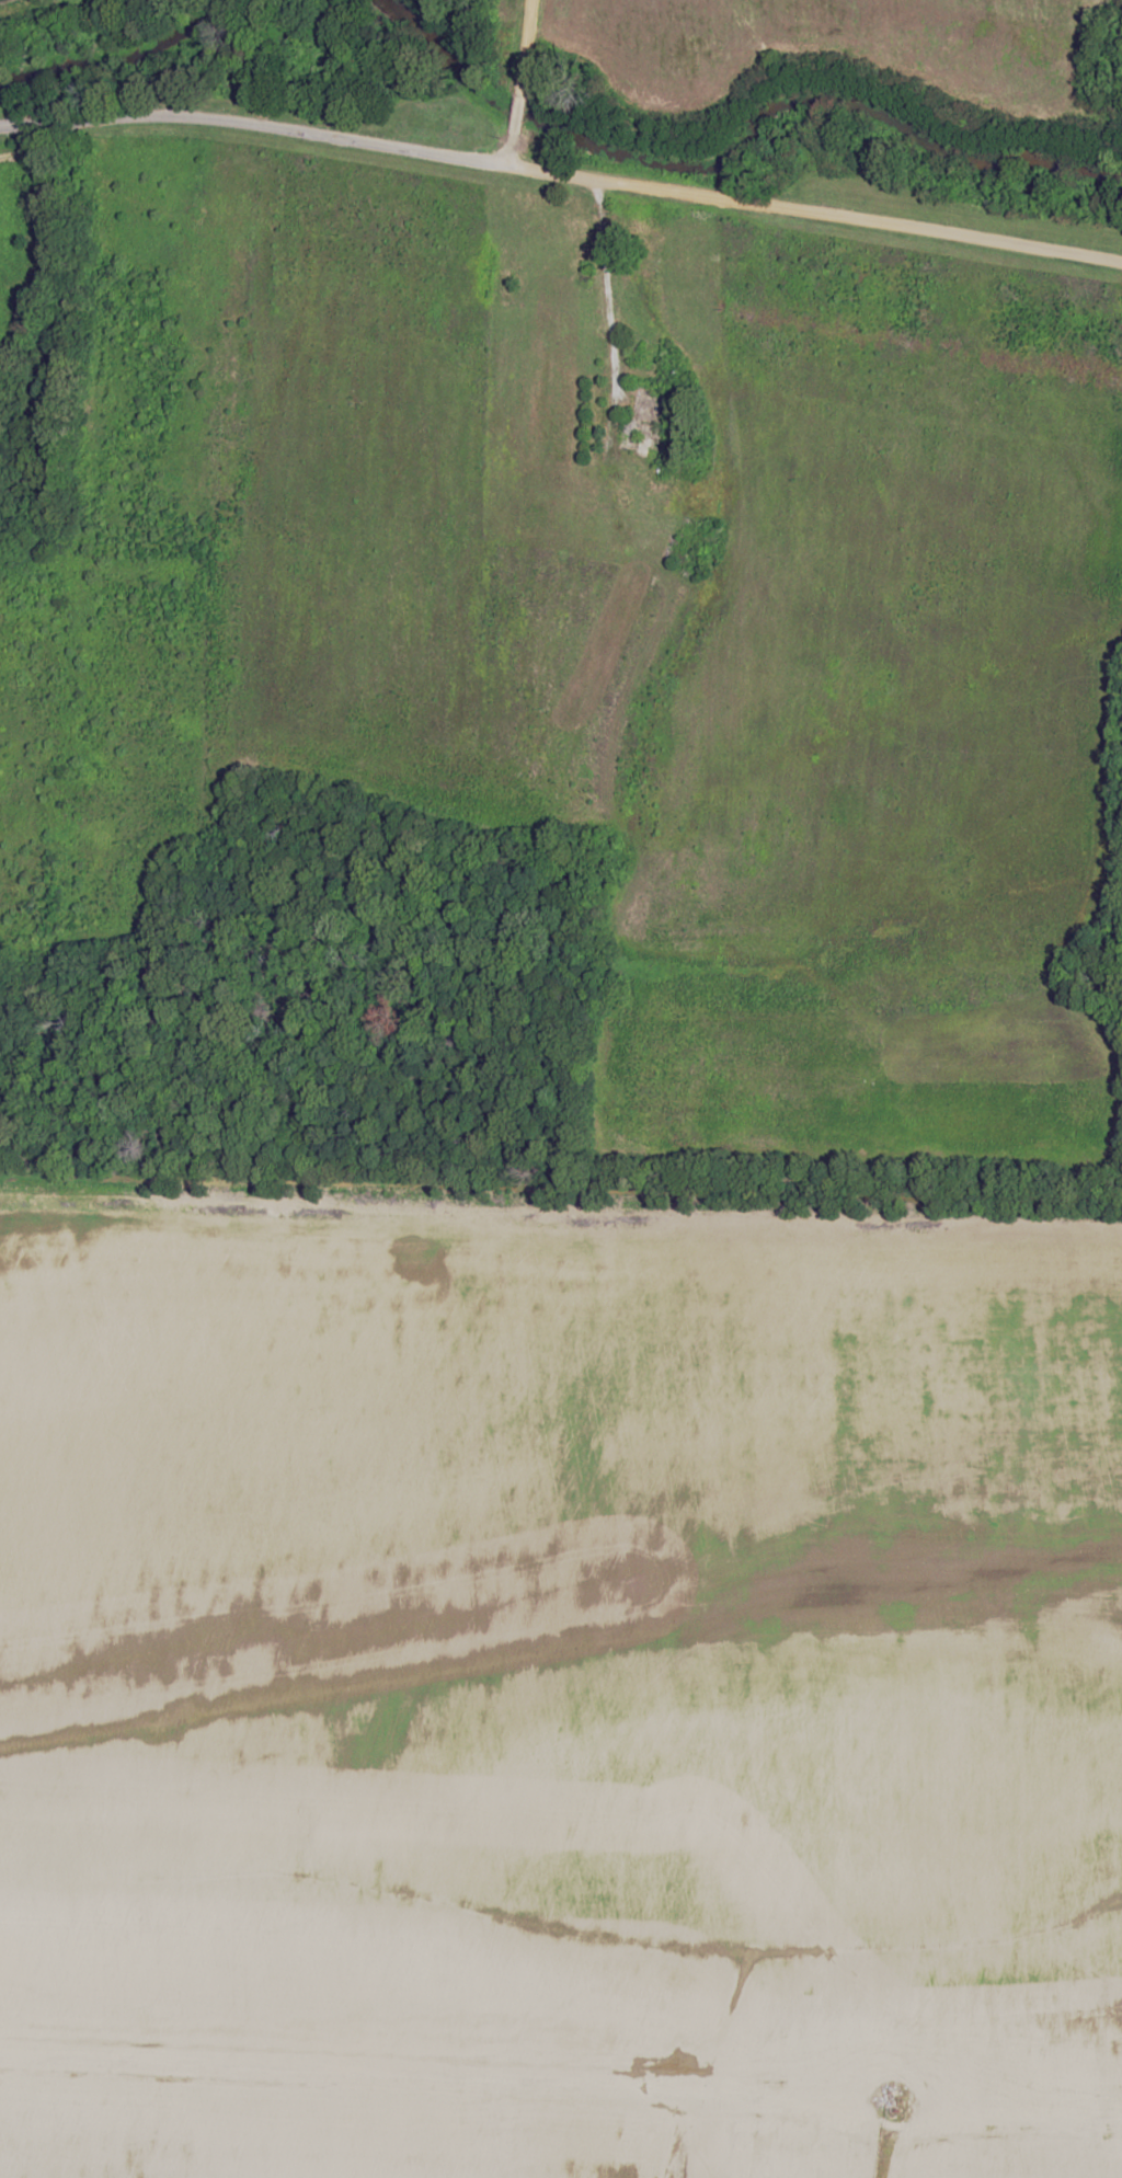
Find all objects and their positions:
road: (16, 3)
road: (514, 81)
road: (562, 172)
road: (606, 295)
building: (646, 429)
road: (561, 2080)

